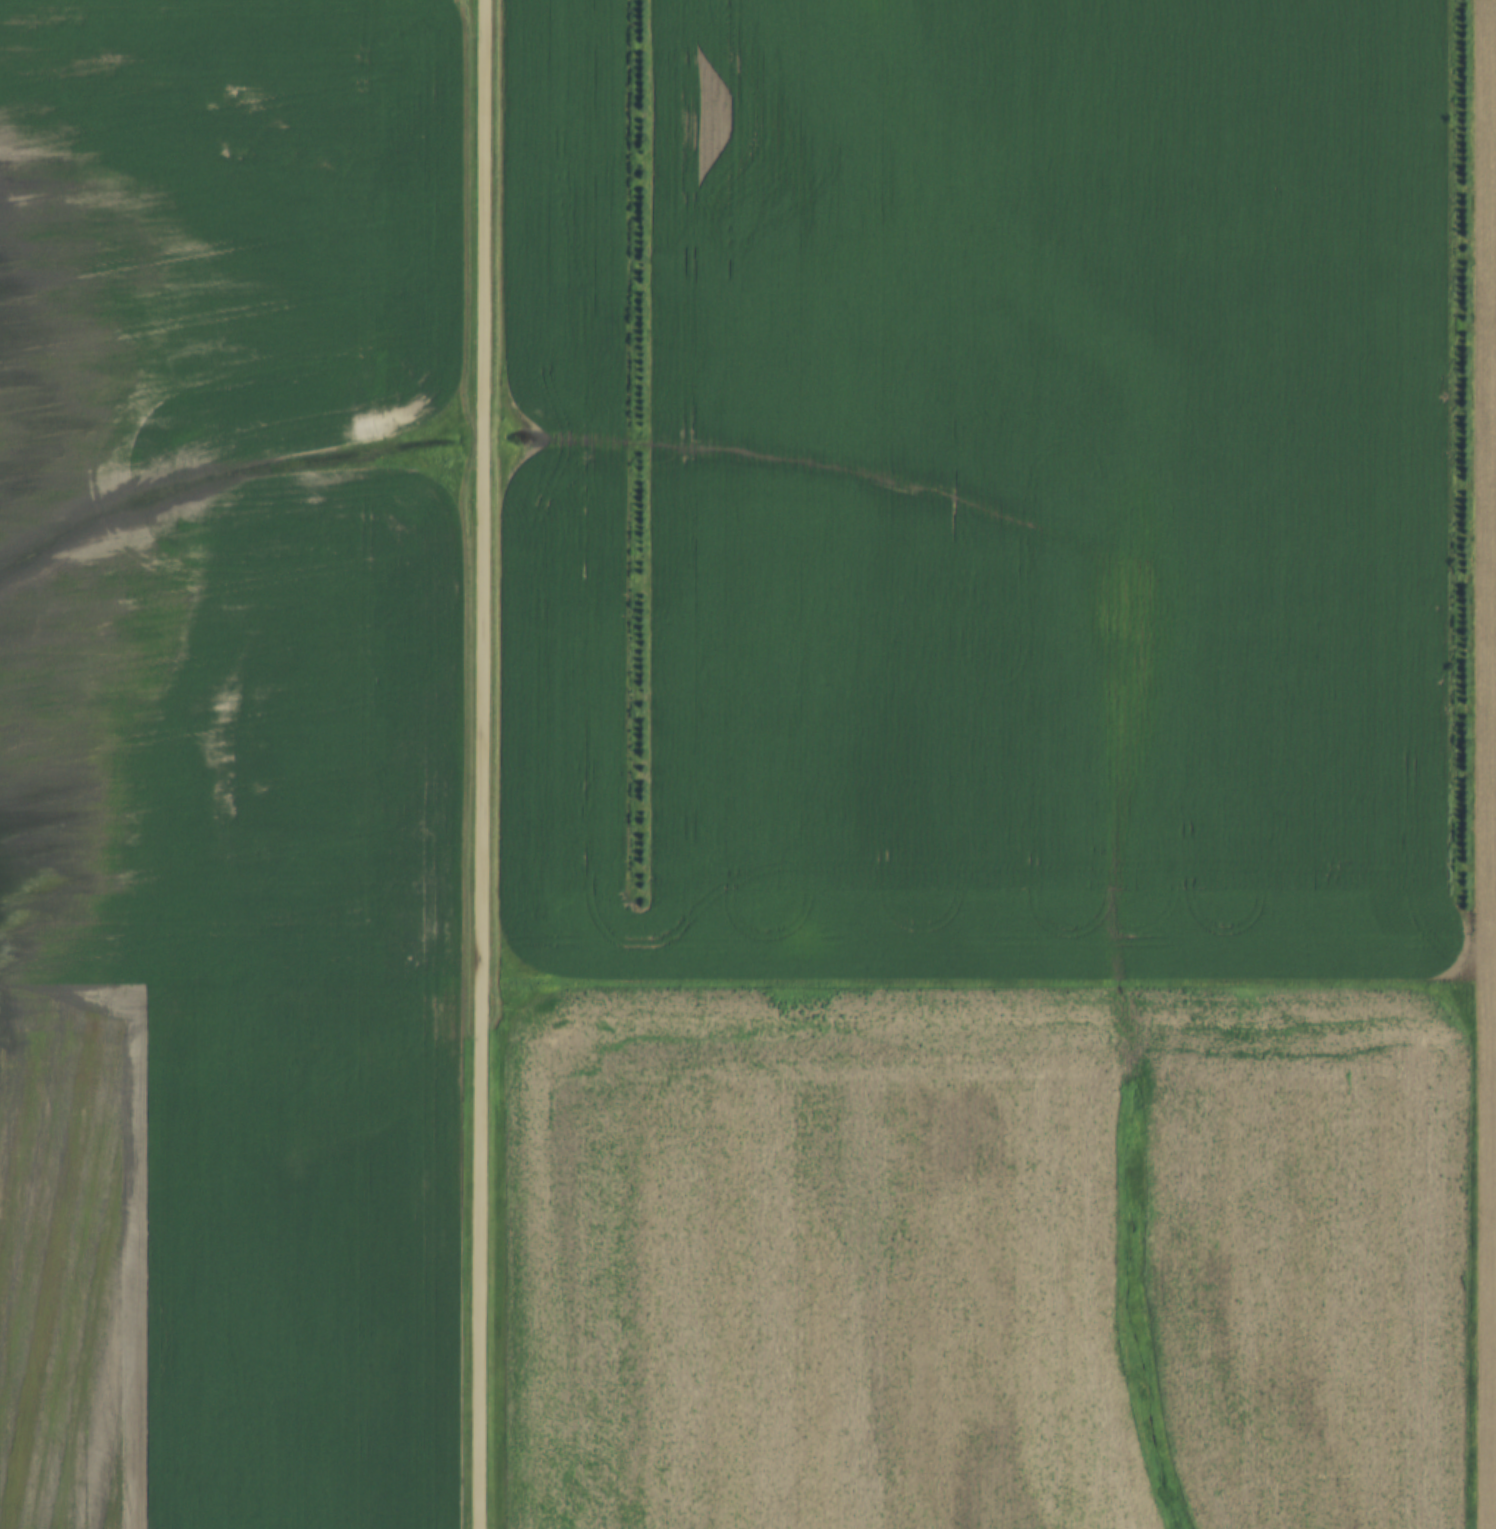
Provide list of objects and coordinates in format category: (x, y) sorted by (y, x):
road: (483, 764)

